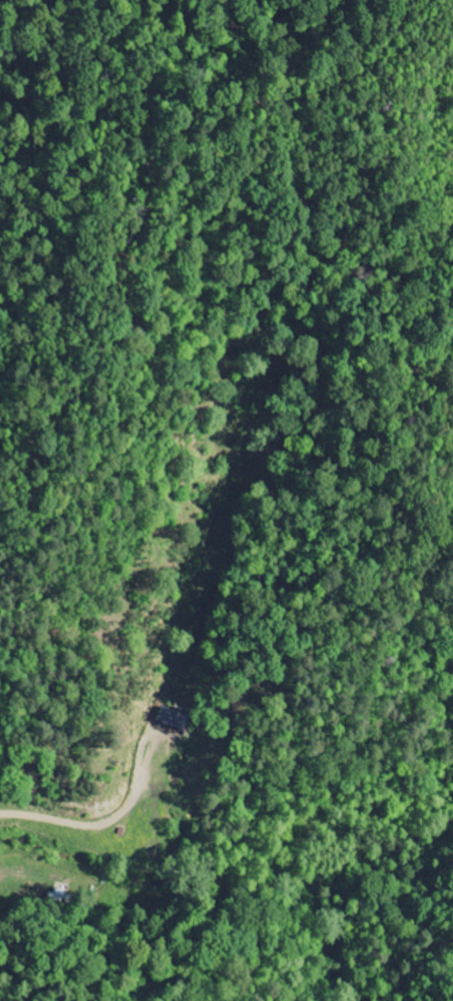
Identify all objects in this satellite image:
building: (171, 720)

